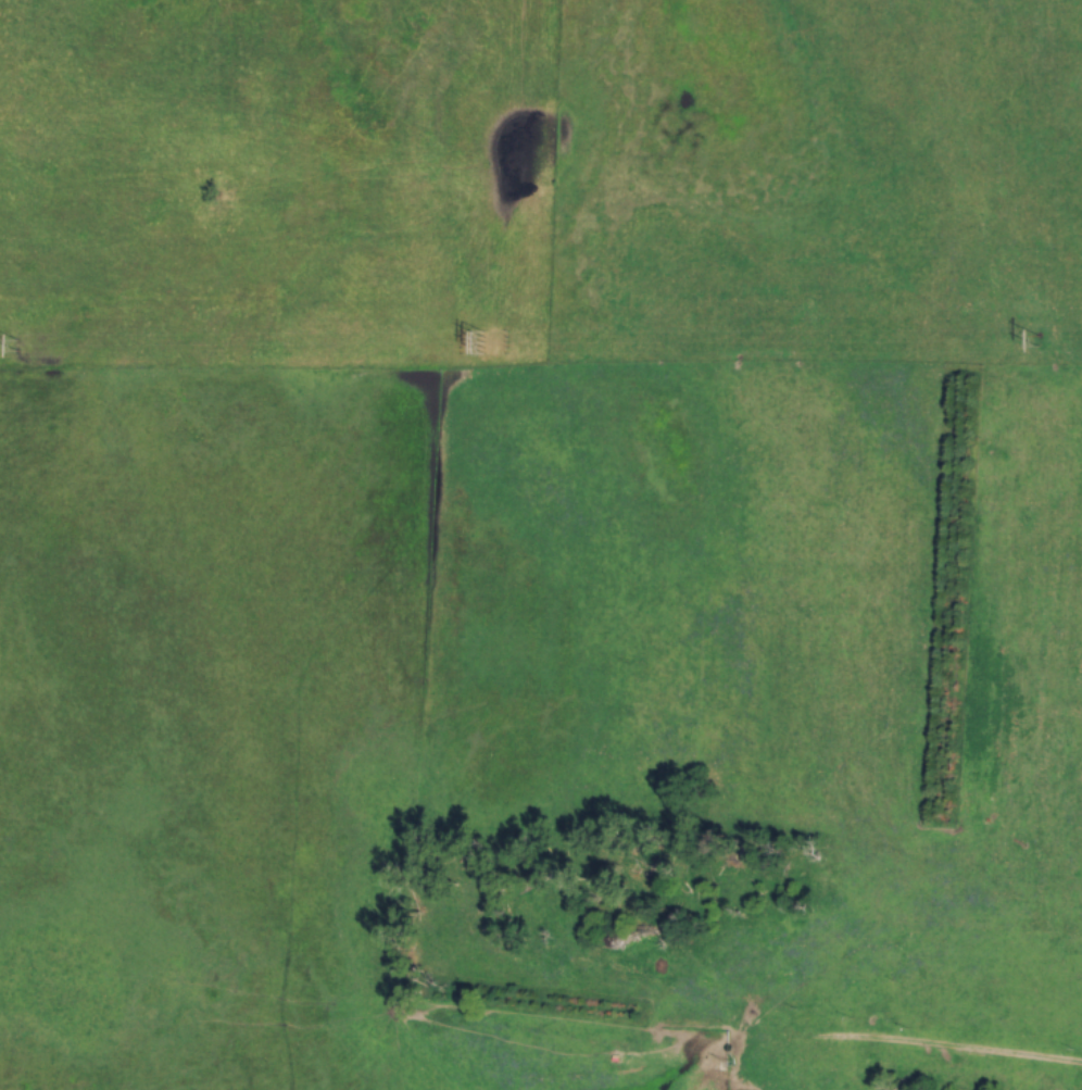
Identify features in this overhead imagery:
power tower: (1037, 341)
power tower: (483, 343)
power tower: (16, 347)
road: (913, 1047)

